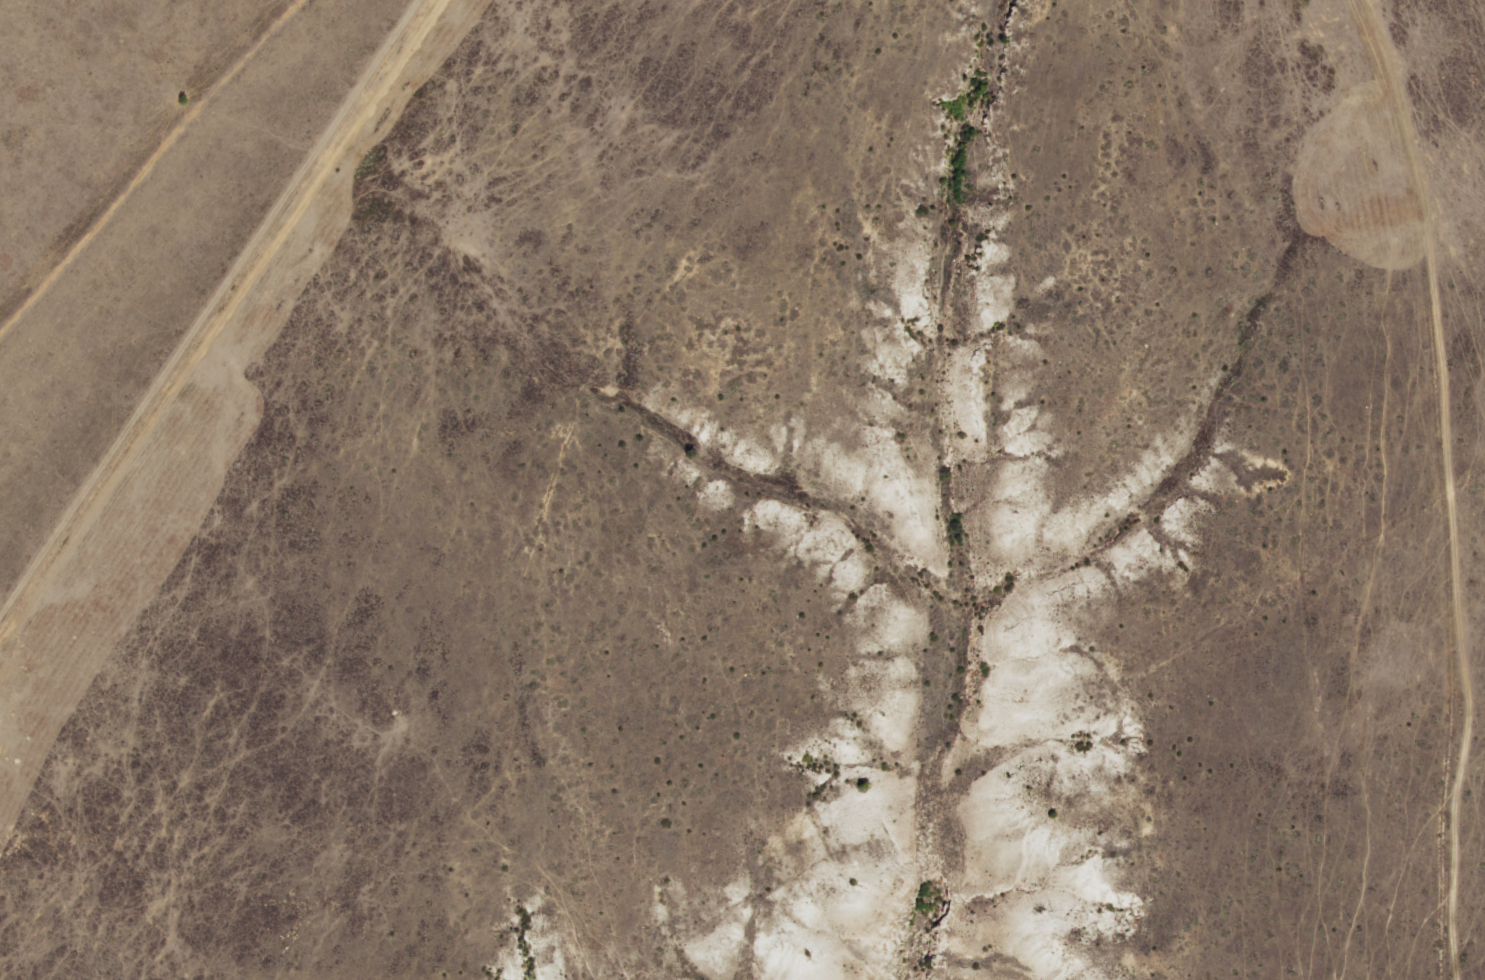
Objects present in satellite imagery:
road: (1448, 485)

